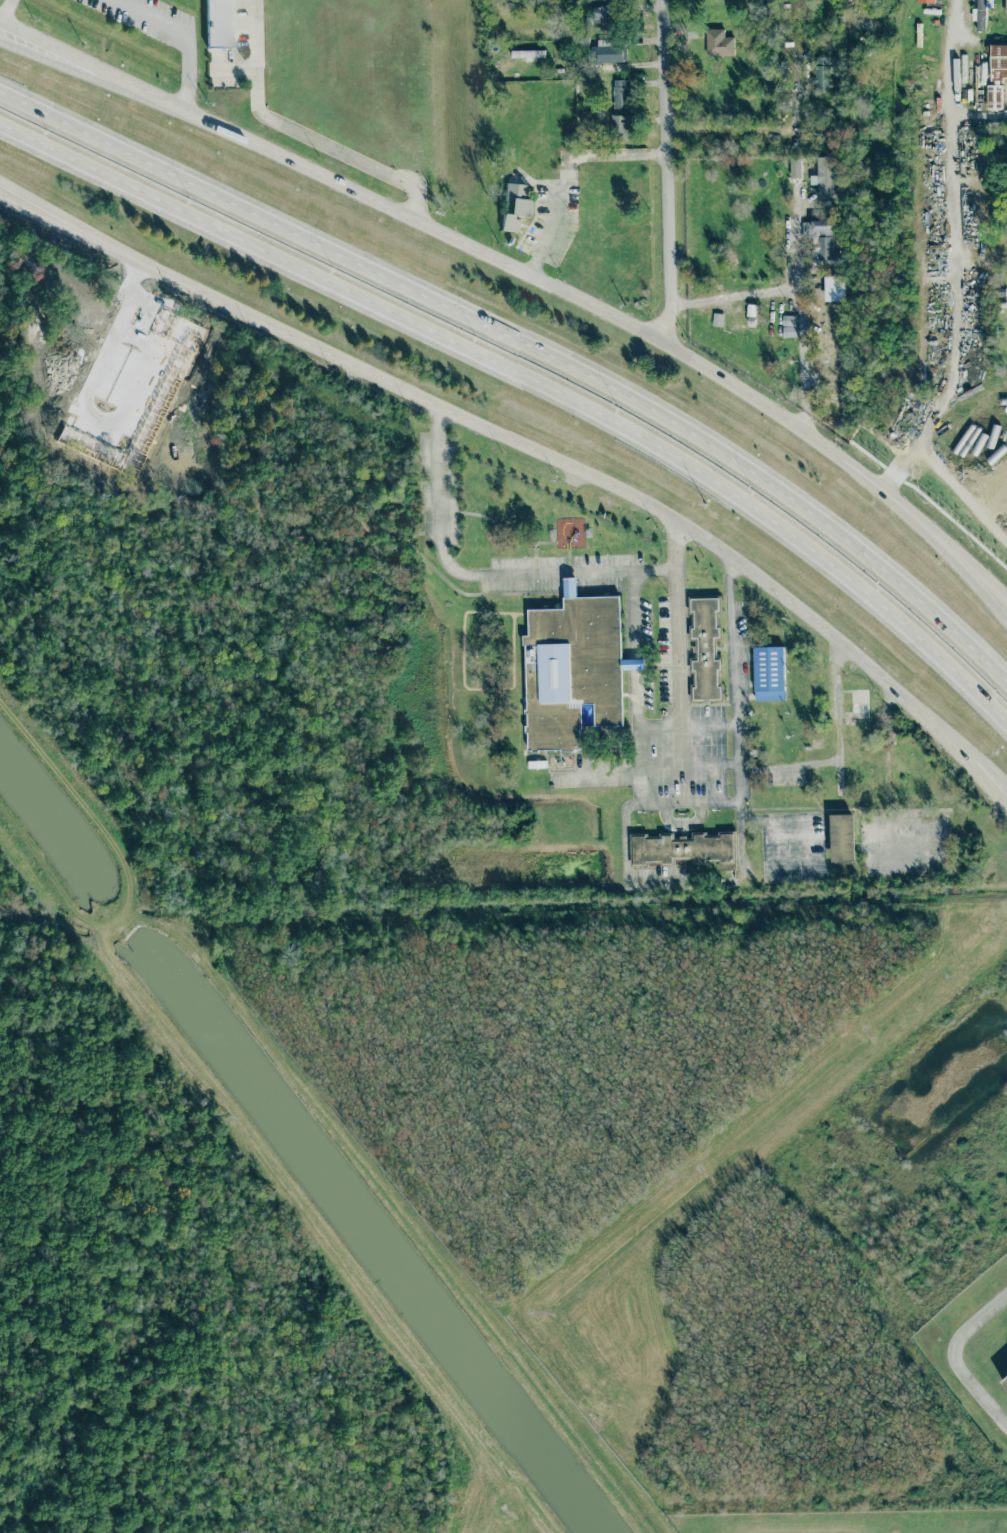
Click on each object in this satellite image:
building: (927, 1)
road: (3, 7)
building: (1005, 7)
building: (980, 13)
building: (605, 16)
building: (219, 23)
road: (188, 33)
building: (718, 43)
building: (607, 52)
building: (528, 53)
building: (998, 61)
road: (98, 67)
building: (822, 74)
road: (98, 76)
building: (621, 94)
building: (993, 96)
road: (979, 116)
building: (621, 126)
road: (757, 131)
road: (303, 132)
road: (570, 161)
building: (795, 168)
road: (666, 170)
building: (825, 177)
building: (514, 205)
road: (54, 211)
road: (54, 217)
building: (820, 241)
road: (505, 263)
road: (536, 264)
building: (835, 288)
road: (956, 292)
road: (732, 295)
road: (797, 308)
building: (788, 320)
road: (528, 348)
road: (532, 376)
building: (996, 454)
road: (592, 476)
road: (867, 481)
railway: (1006, 526)
road: (968, 570)
road: (481, 575)
road: (968, 579)
road: (633, 648)
building: (704, 648)
road: (681, 658)
building: (572, 668)
building: (768, 673)
road: (736, 689)
road: (660, 725)
road: (710, 725)
road: (954, 744)
road: (838, 751)
road: (643, 765)
building: (842, 837)
building: (685, 848)
road: (950, 1355)
building: (1005, 1382)

